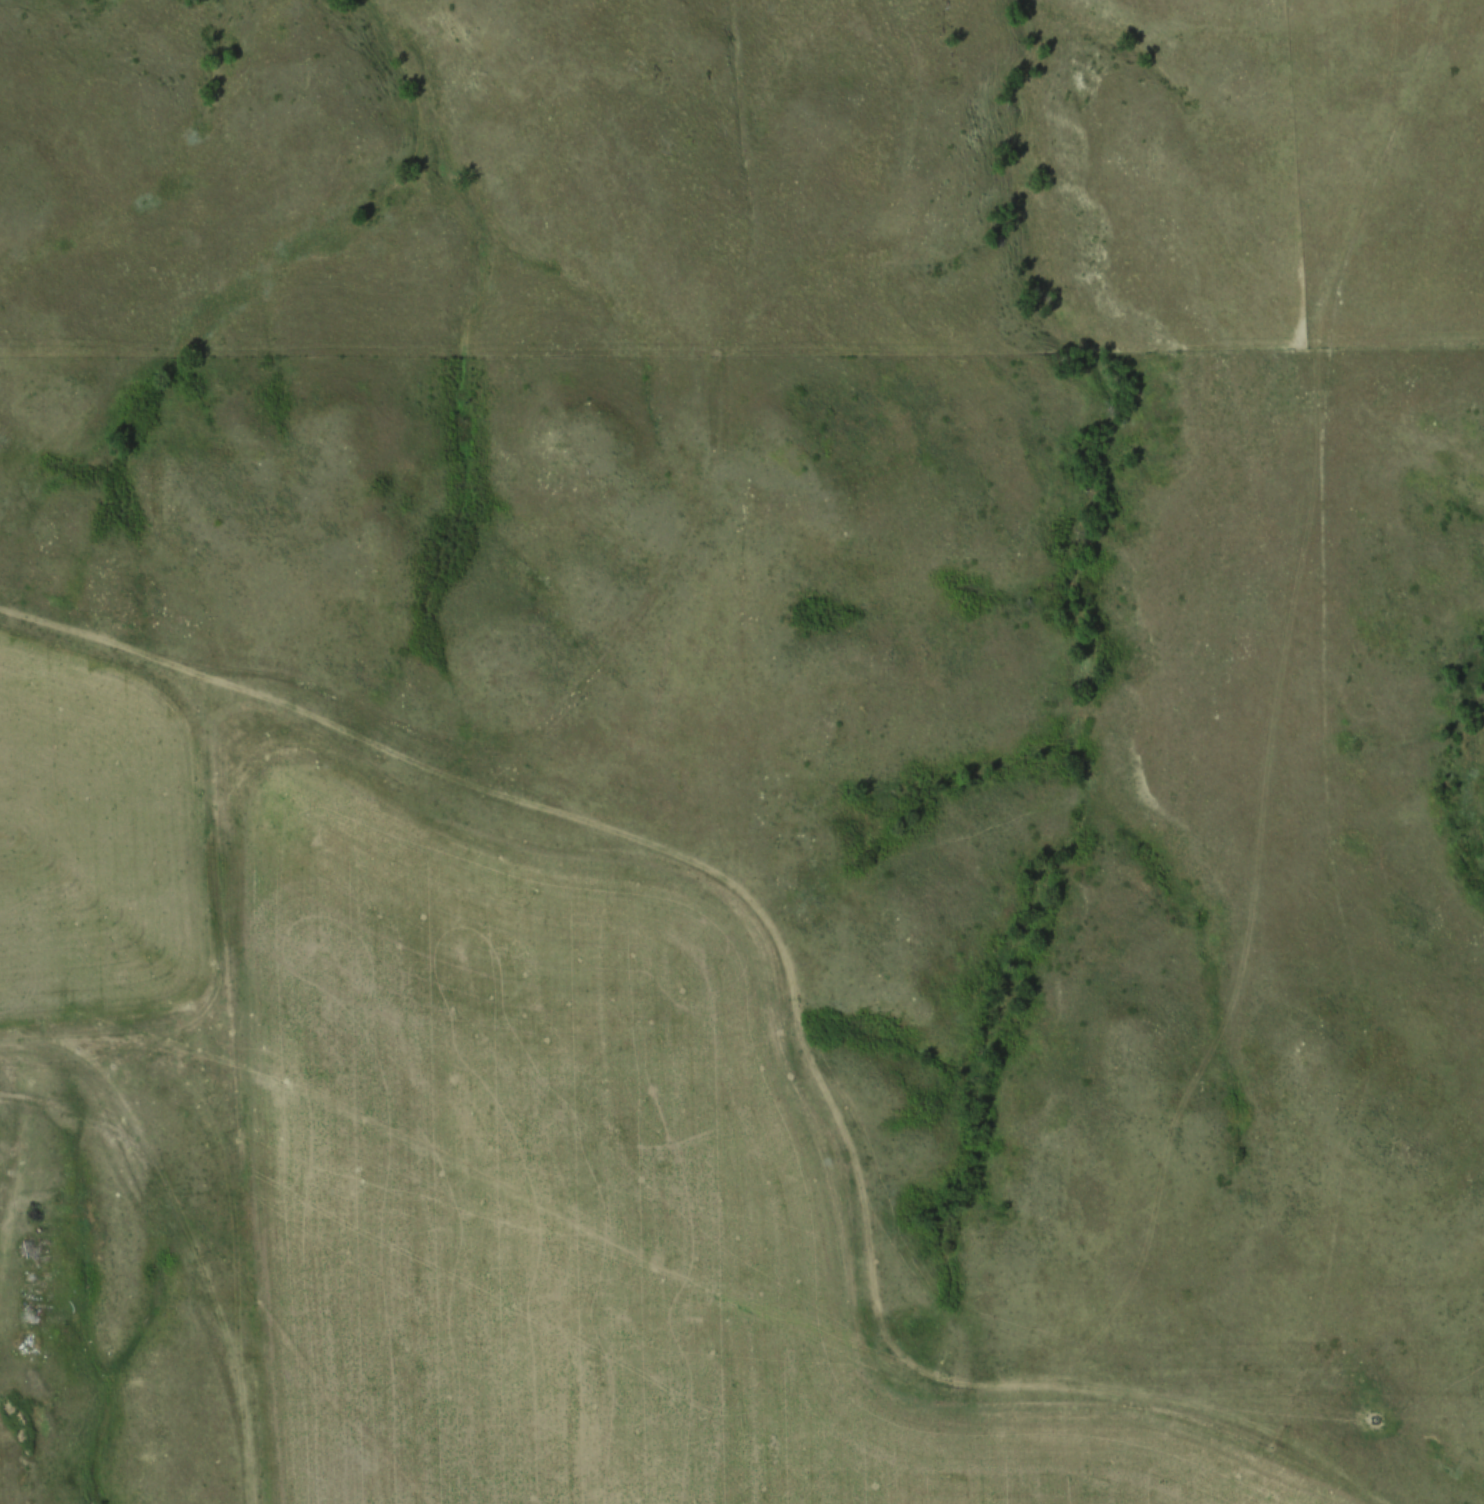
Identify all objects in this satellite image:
crop: (98, 842)
road: (795, 998)
crop: (578, 1203)

